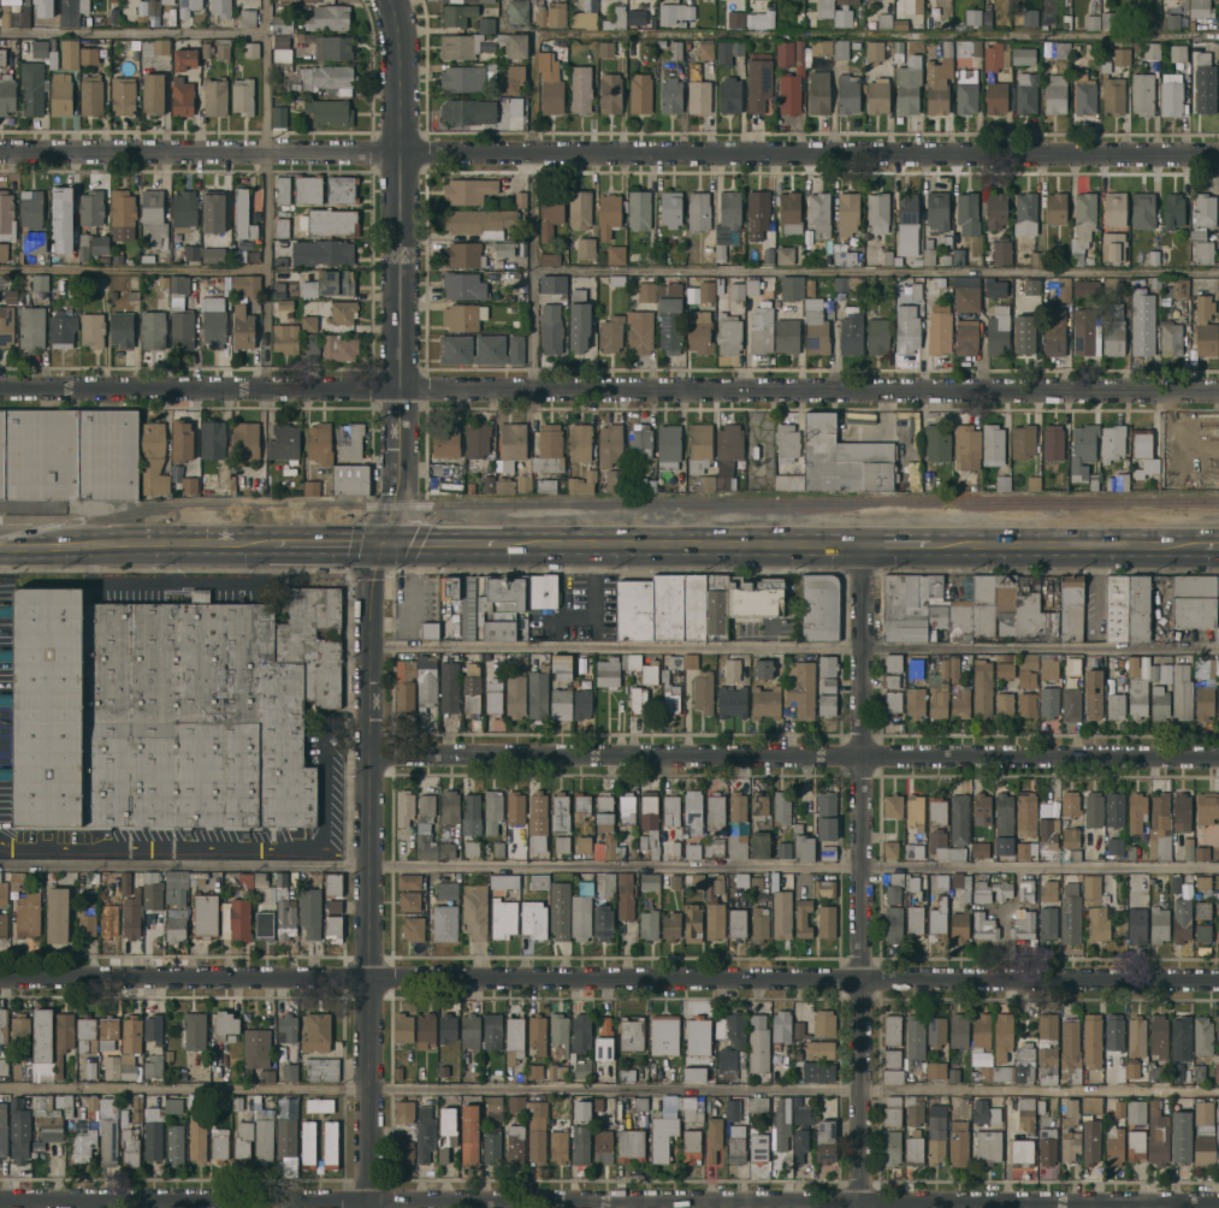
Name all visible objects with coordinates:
building: (290, 0)
building: (455, 0)
building: (25, 1)
building: (166, 1)
building: (185, 1)
building: (846, 1)
building: (220, 6)
building: (917, 6)
building: (41, 7)
building: (824, 7)
building: (1201, 7)
building: (153, 8)
road: (501, 8)
building: (113, 10)
building: (141, 10)
building: (71, 11)
building: (517, 11)
building: (456, 12)
building: (674, 12)
building: (552, 13)
building: (972, 14)
building: (5, 16)
building: (327, 16)
building: (619, 16)
building: (637, 16)
building: (1029, 16)
building: (245, 17)
building: (582, 17)
building: (735, 17)
building: (759, 18)
building: (883, 18)
building: (899, 18)
building: (987, 18)
building: (1108, 18)
building: (795, 19)
building: (853, 19)
building: (1049, 19)
building: (1178, 19)
building: (1093, 20)
building: (282, 22)
building: (485, 23)
road: (516, 26)
road: (135, 34)
road: (698, 34)
building: (297, 35)
building: (499, 36)
building: (0, 40)
building: (280, 40)
building: (661, 42)
building: (515, 43)
building: (458, 45)
building: (1006, 45)
building: (154, 46)
building: (332, 46)
building: (819, 46)
building: (976, 46)
building: (221, 47)
building: (605, 47)
building: (1105, 47)
building: (40, 48)
building: (206, 48)
building: (250, 48)
building: (675, 48)
building: (705, 48)
building: (841, 48)
building: (947, 48)
building: (1061, 48)
building: (728, 49)
building: (1152, 49)
building: (874, 51)
building: (898, 51)
building: (1177, 51)
building: (53, 53)
building: (67, 53)
building: (282, 53)
building: (783, 53)
building: (88, 54)
building: (1023, 54)
building: (2, 55)
building: (995, 55)
building: (1120, 55)
building: (183, 57)
building: (561, 63)
building: (492, 65)
road: (270, 75)
building: (319, 77)
building: (463, 77)
building: (510, 78)
building: (757, 79)
building: (792, 82)
building: (1205, 82)
building: (549, 83)
building: (31, 87)
building: (580, 87)
building: (907, 87)
building: (1026, 90)
building: (6, 91)
building: (152, 91)
building: (610, 91)
building: (639, 91)
building: (817, 91)
building: (847, 91)
building: (1142, 91)
building: (729, 93)
building: (1055, 93)
building: (1112, 93)
building: (1171, 93)
building: (59, 94)
building: (90, 94)
building: (122, 94)
building: (670, 94)
building: (181, 95)
building: (214, 95)
building: (242, 95)
building: (698, 95)
building: (876, 95)
building: (937, 95)
building: (966, 95)
building: (995, 95)
building: (1084, 95)
building: (515, 105)
building: (467, 109)
building: (330, 111)
building: (278, 114)
road: (135, 150)
road: (744, 152)
building: (282, 188)
building: (308, 188)
building: (341, 188)
building: (468, 189)
building: (520, 197)
building: (757, 205)
building: (30, 207)
building: (61, 207)
building: (90, 207)
building: (579, 207)
building: (670, 207)
building: (1055, 207)
building: (183, 208)
building: (639, 208)
building: (995, 208)
building: (1113, 208)
building: (1142, 208)
building: (1205, 208)
building: (907, 209)
building: (936, 209)
building: (1173, 209)
building: (213, 211)
building: (698, 211)
building: (789, 211)
building: (847, 211)
building: (877, 211)
building: (550, 212)
building: (609, 212)
building: (818, 212)
building: (967, 212)
building: (122, 213)
building: (1025, 213)
building: (6, 214)
building: (242, 214)
building: (1083, 215)
building: (153, 218)
building: (727, 218)
building: (329, 220)
building: (479, 220)
building: (280, 226)
building: (1197, 232)
building: (679, 238)
building: (669, 239)
building: (32, 241)
building: (817, 243)
building: (82, 245)
building: (1112, 245)
building: (585, 247)
building: (945, 247)
building: (99, 248)
building: (2, 250)
building: (321, 250)
building: (1001, 250)
building: (1202, 250)
building: (190, 251)
building: (502, 251)
building: (659, 251)
building: (463, 253)
building: (615, 253)
building: (785, 253)
building: (213, 254)
building: (239, 254)
building: (650, 254)
building: (768, 255)
building: (845, 255)
building: (929, 255)
building: (1153, 255)
building: (147, 256)
building: (709, 256)
building: (887, 256)
building: (958, 256)
building: (1077, 256)
building: (549, 257)
building: (1036, 257)
building: (1046, 257)
building: (112, 259)
building: (897, 259)
building: (279, 260)
road: (134, 270)
road: (877, 270)
road: (267, 271)
road: (404, 273)
building: (6, 278)
building: (616, 278)
building: (927, 279)
building: (162, 280)
building: (336, 280)
building: (40, 282)
building: (61, 282)
building: (552, 282)
building: (1154, 282)
building: (840, 283)
building: (179, 284)
building: (245, 284)
building: (462, 284)
building: (1094, 284)
building: (752, 285)
building: (809, 285)
building: (1031, 285)
building: (791, 286)
building: (995, 286)
building: (1118, 286)
building: (1064, 288)
building: (736, 289)
building: (915, 289)
building: (1179, 289)
building: (645, 290)
building: (705, 290)
building: (132, 294)
building: (11, 295)
building: (521, 296)
building: (1135, 298)
building: (213, 302)
building: (284, 303)
building: (1153, 308)
building: (343, 310)
building: (460, 315)
building: (669, 315)
building: (965, 316)
building: (578, 319)
building: (308, 321)
building: (6, 325)
building: (31, 325)
building: (242, 325)
building: (1205, 325)
building: (815, 326)
building: (60, 327)
building: (122, 327)
building: (182, 327)
building: (213, 327)
building: (761, 327)
building: (906, 327)
building: (91, 328)
building: (153, 328)
building: (998, 328)
building: (1053, 330)
building: (1112, 330)
building: (610, 331)
building: (640, 331)
building: (699, 331)
building: (1083, 331)
building: (728, 332)
building: (851, 332)
building: (939, 332)
building: (1024, 332)
building: (551, 333)
building: (787, 333)
building: (876, 333)
building: (284, 337)
building: (1144, 337)
building: (1170, 337)
building: (312, 339)
building: (338, 347)
building: (455, 348)
building: (497, 348)
road: (609, 390)
building: (212, 438)
building: (349, 438)
building: (181, 439)
building: (477, 439)
building: (511, 439)
building: (1023, 439)
building: (283, 440)
building: (579, 440)
building: (639, 440)
building: (729, 440)
building: (787, 440)
building: (993, 440)
building: (1052, 440)
building: (1112, 440)
building: (243, 442)
building: (319, 442)
building: (445, 442)
building: (936, 442)
building: (609, 443)
building: (668, 444)
building: (698, 445)
building: (966, 445)
building: (548, 448)
building: (1189, 448)
building: (1083, 449)
building: (755, 450)
building: (1143, 451)
building: (69, 454)
building: (152, 457)
building: (840, 460)
building: (350, 478)
building: (614, 479)
building: (1117, 479)
building: (1093, 480)
building: (523, 481)
building: (582, 481)
building: (1002, 481)
building: (1032, 481)
building: (487, 482)
building: (640, 482)
building: (705, 482)
building: (722, 482)
building: (188, 484)
building: (545, 484)
building: (310, 485)
building: (504, 485)
building: (989, 485)
building: (469, 486)
building: (231, 487)
railway: (608, 503)
road: (1211, 545)
road: (1065, 546)
road: (136, 547)
road: (327, 547)
traffic signals: (384, 547)
road: (438, 547)
road: (676, 547)
road: (894, 547)
road: (173, 565)
road: (174, 582)
building: (449, 587)
building: (965, 587)
parking lot: (6, 593)
building: (755, 596)
building: (1161, 597)
building: (1194, 599)
building: (1218, 599)
building: (1006, 602)
building: (936, 603)
building: (983, 603)
building: (501, 604)
building: (694, 605)
building: (716, 605)
building: (467, 606)
building: (818, 606)
building: (905, 606)
building: (1032, 606)
building: (1071, 606)
building: (1117, 606)
building: (1138, 606)
building: (651, 608)
building: (546, 609)
building: (959, 618)
building: (525, 626)
building: (428, 628)
parking lot: (6, 630)
road: (615, 645)
road: (1038, 647)
building: (544, 656)
building: (1002, 656)
building: (676, 661)
building: (690, 661)
building: (1028, 661)
building: (1120, 661)
building: (520, 662)
building: (892, 662)
building: (827, 664)
building: (1048, 664)
building: (1072, 664)
building: (1218, 664)
building: (510, 665)
building: (561, 665)
building: (1132, 665)
building: (640, 667)
building: (953, 667)
building: (762, 668)
building: (732, 669)
building: (1004, 669)
building: (606, 670)
building: (1154, 671)
building: (1164, 673)
parking lot: (6, 675)
building: (1025, 677)
building: (426, 679)
building: (403, 683)
building: (828, 683)
building: (448, 686)
building: (799, 687)
building: (981, 687)
building: (939, 689)
building: (1180, 689)
building: (703, 691)
building: (893, 692)
building: (1093, 692)
building: (669, 693)
building: (515, 694)
building: (537, 694)
building: (1137, 695)
building: (471, 697)
building: (493, 697)
building: (637, 699)
building: (732, 699)
building: (765, 700)
building: (915, 700)
building: (1203, 700)
building: (1218, 700)
building: (561, 701)
building: (959, 701)
building: (1048, 701)
building: (1158, 701)
building: (581, 703)
building: (827, 703)
building: (1004, 703)
building: (1026, 703)
building: (1070, 703)
building: (1116, 704)
building: (165, 707)
parking lot: (6, 735)
road: (347, 735)
road: (793, 766)
road: (324, 790)
building: (759, 801)
building: (1070, 803)
building: (893, 804)
building: (403, 805)
building: (736, 805)
building: (449, 806)
building: (514, 806)
building: (581, 806)
building: (782, 806)
building: (1207, 806)
building: (715, 807)
building: (981, 807)
building: (1114, 807)
building: (669, 809)
building: (936, 809)
building: (1093, 809)
building: (491, 810)
building: (604, 810)
building: (626, 810)
building: (692, 810)
building: (1043, 810)
building: (1136, 810)
building: (560, 811)
building: (915, 811)
building: (1004, 811)
building: (1180, 812)
building: (1025, 813)
building: (469, 815)
building: (826, 815)
building: (958, 818)
building: (537, 819)
building: (650, 821)
building: (425, 825)
building: (1159, 828)
parking lot: (149, 840)
building: (1048, 840)
building: (643, 841)
building: (937, 842)
road: (161, 843)
building: (561, 843)
building: (582, 843)
building: (759, 843)
building: (803, 843)
building: (1070, 843)
building: (736, 845)
building: (605, 846)
building: (619, 846)
building: (714, 846)
building: (1004, 846)
building: (1114, 846)
building: (471, 847)
building: (497, 847)
building: (1188, 847)
building: (692, 848)
building: (783, 848)
building: (890, 848)
building: (980, 848)
road: (344, 849)
building: (446, 849)
building: (675, 849)
building: (918, 849)
building: (1026, 849)
building: (827, 851)
building: (1130, 851)
building: (955, 852)
building: (1201, 852)
road: (183, 861)
road: (613, 865)
road: (1038, 865)
road: (367, 876)
building: (19, 877)
building: (94, 877)
building: (195, 877)
road: (860, 877)
building: (101, 878)
building: (260, 878)
building: (738, 878)
building: (697, 880)
building: (936, 880)
building: (244, 881)
building: (408, 881)
building: (504, 881)
building: (538, 881)
building: (650, 881)
building: (674, 881)
building: (1201, 881)
building: (123, 882)
building: (756, 882)
building: (332, 883)
building: (609, 883)
building: (717, 883)
building: (911, 883)
building: (960, 883)
building: (1176, 883)
building: (1090, 886)
building: (176, 888)
building: (824, 888)
building: (893, 888)
building: (152, 889)
building: (446, 889)
building: (1001, 889)
building: (1025, 889)
building: (1048, 889)
building: (981, 890)
building: (2, 892)
building: (952, 893)
building: (271, 894)
building: (625, 895)
building: (409, 900)
building: (258, 905)
building: (333, 905)
building: (284, 907)
building: (474, 910)
building: (1202, 910)
building: (309, 911)
building: (560, 911)
building: (581, 911)
building: (1070, 911)
building: (1218, 911)
building: (28, 913)
building: (781, 913)
building: (55, 914)
building: (205, 914)
building: (130, 916)
building: (803, 917)
building: (235, 918)
building: (502, 918)
building: (107, 919)
building: (533, 919)
building: (826, 919)
building: (937, 919)
building: (1180, 919)
building: (85, 920)
building: (714, 920)
building: (444, 922)
building: (692, 922)
building: (913, 922)
building: (603, 923)
building: (735, 923)
building: (759, 923)
building: (892, 923)
building: (1047, 923)
building: (1097, 923)
building: (4, 924)
building: (264, 924)
building: (647, 924)
building: (1158, 924)
building: (174, 925)
building: (670, 925)
building: (958, 925)
building: (983, 925)
building: (1023, 925)
building: (1136, 925)
building: (332, 926)
building: (413, 928)
building: (1202, 932)
building: (1218, 934)
road: (609, 975)
building: (823, 1023)
building: (2, 1024)
building: (223, 1024)
building: (107, 1026)
building: (152, 1026)
building: (286, 1026)
building: (446, 1026)
building: (730, 1026)
building: (1218, 1026)
building: (19, 1028)
building: (403, 1028)
building: (780, 1028)
building: (892, 1029)
building: (425, 1030)
building: (469, 1030)
building: (492, 1030)
building: (798, 1030)
building: (936, 1030)
building: (958, 1030)
building: (981, 1030)
building: (1002, 1030)
building: (1136, 1030)
building: (193, 1031)
building: (315, 1031)
building: (1113, 1031)
building: (85, 1032)
building: (537, 1032)
building: (631, 1032)
building: (558, 1034)
building: (663, 1034)
building: (41, 1035)
building: (1158, 1035)
building: (1202, 1035)
building: (697, 1036)
building: (230, 1037)
building: (1180, 1037)
building: (514, 1038)
building: (60, 1040)
building: (1091, 1040)
building: (915, 1041)
building: (580, 1043)
building: (757, 1043)
building: (129, 1046)
building: (255, 1048)
building: (819, 1048)
building: (1047, 1048)
building: (1070, 1050)
building: (167, 1054)
building: (603, 1054)
building: (797, 1054)
building: (892, 1058)
building: (726, 1060)
building: (1025, 1062)
building: (152, 1065)
building: (2, 1066)
building: (110, 1067)
building: (89, 1068)
building: (321, 1068)
building: (936, 1070)
building: (1131, 1070)
building: (1156, 1070)
building: (24, 1071)
building: (289, 1071)
building: (442, 1071)
building: (534, 1071)
building: (556, 1071)
building: (817, 1071)
building: (1177, 1071)
building: (1217, 1071)
building: (397, 1072)
building: (693, 1072)
building: (986, 1072)
building: (1002, 1072)
building: (1199, 1072)
building: (266, 1074)
building: (626, 1074)
building: (893, 1074)
building: (953, 1074)
building: (521, 1077)
road: (609, 1091)
building: (0, 1097)
building: (193, 1100)
building: (964, 1100)
building: (255, 1101)
building: (237, 1102)
building: (516, 1102)
building: (758, 1103)
building: (1091, 1103)
building: (66, 1105)
building: (172, 1105)
building: (318, 1105)
building: (288, 1106)
building: (1040, 1106)
building: (492, 1107)
building: (136, 1108)
building: (597, 1108)
building: (1119, 1108)
building: (581, 1109)
building: (732, 1109)
building: (827, 1109)
building: (403, 1111)
building: (691, 1111)
building: (892, 1111)
building: (913, 1111)
building: (1136, 1111)
building: (657, 1112)
building: (801, 1112)
building: (984, 1112)
building: (1070, 1112)
building: (196, 1113)
building: (538, 1113)
building: (1025, 1113)
building: (1217, 1113)
building: (516, 1117)
building: (122, 1118)
building: (47, 1119)
building: (781, 1123)
building: (448, 1124)
building: (107, 1129)
building: (2, 1130)
building: (19, 1130)
building: (84, 1131)
building: (152, 1132)
building: (424, 1132)
building: (1158, 1132)
building: (468, 1133)
building: (633, 1133)
building: (1203, 1133)
building: (262, 1136)
building: (285, 1136)
building: (1180, 1136)
building: (661, 1137)
building: (712, 1137)
building: (935, 1139)
building: (241, 1141)
building: (824, 1142)
building: (958, 1142)
building: (1089, 1142)
building: (218, 1143)
building: (514, 1143)
building: (580, 1143)
building: (735, 1143)
building: (799, 1143)
building: (174, 1144)
building: (196, 1144)
building: (307, 1144)
building: (329, 1144)
building: (491, 1144)
building: (1070, 1144)
building: (1218, 1144)
building: (535, 1145)
building: (558, 1145)
building: (602, 1145)
building: (988, 1145)
building: (1046, 1145)
building: (1114, 1145)
building: (1136, 1145)
building: (129, 1147)
building: (691, 1147)
building: (757, 1147)
building: (890, 1147)
building: (913, 1150)
building: (403, 1151)
building: (1022, 1151)
building: (442, 1155)
road: (609, 1203)

